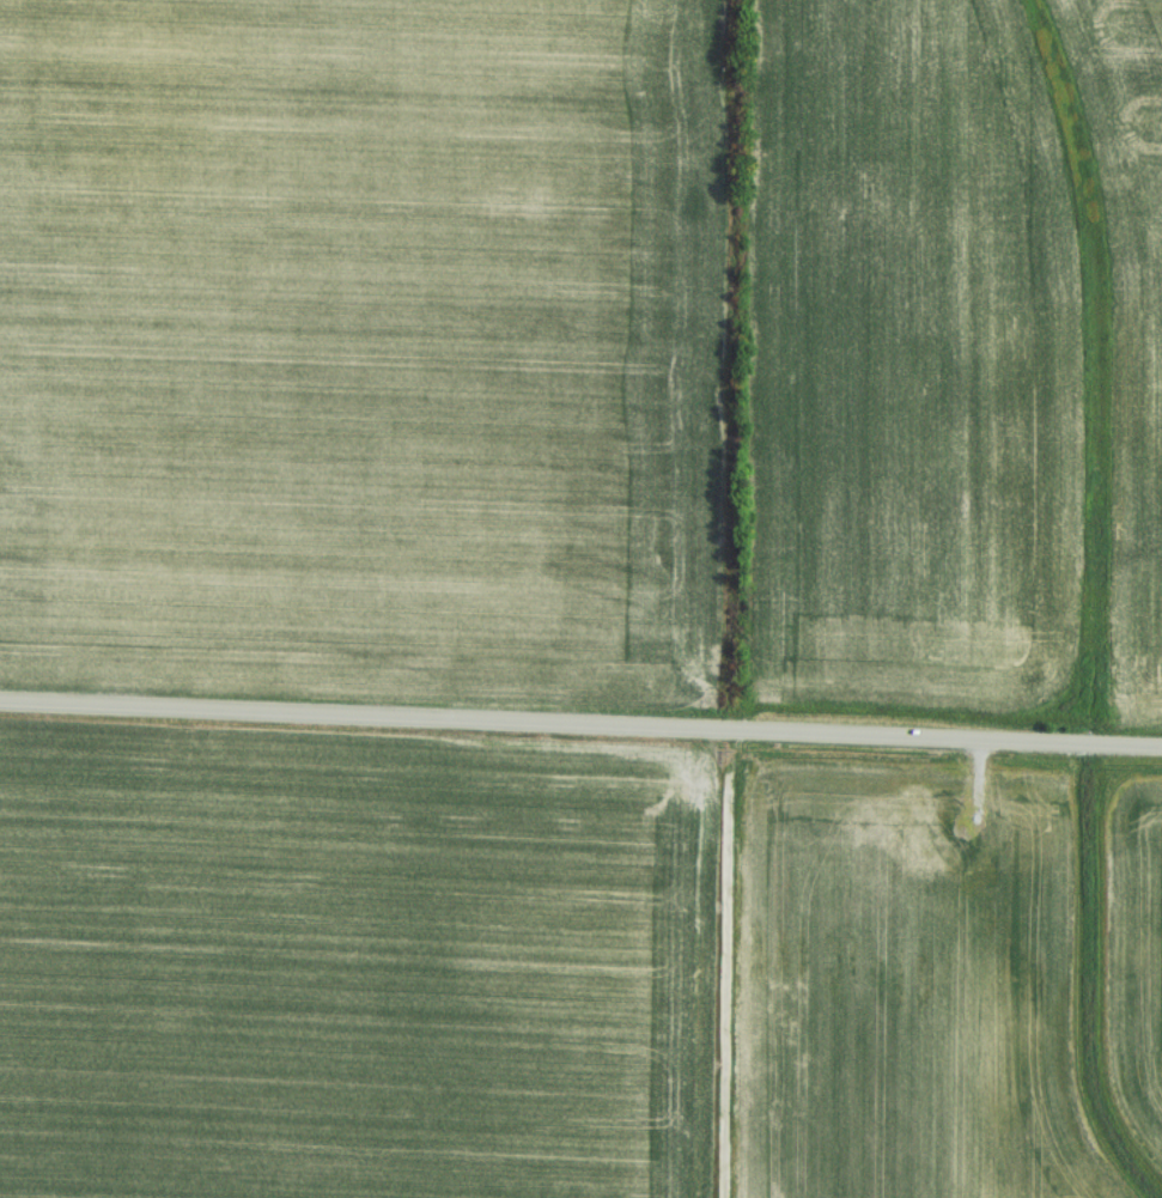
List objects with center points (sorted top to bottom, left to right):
crop: (1126, 299)
crop: (357, 346)
road: (580, 724)

